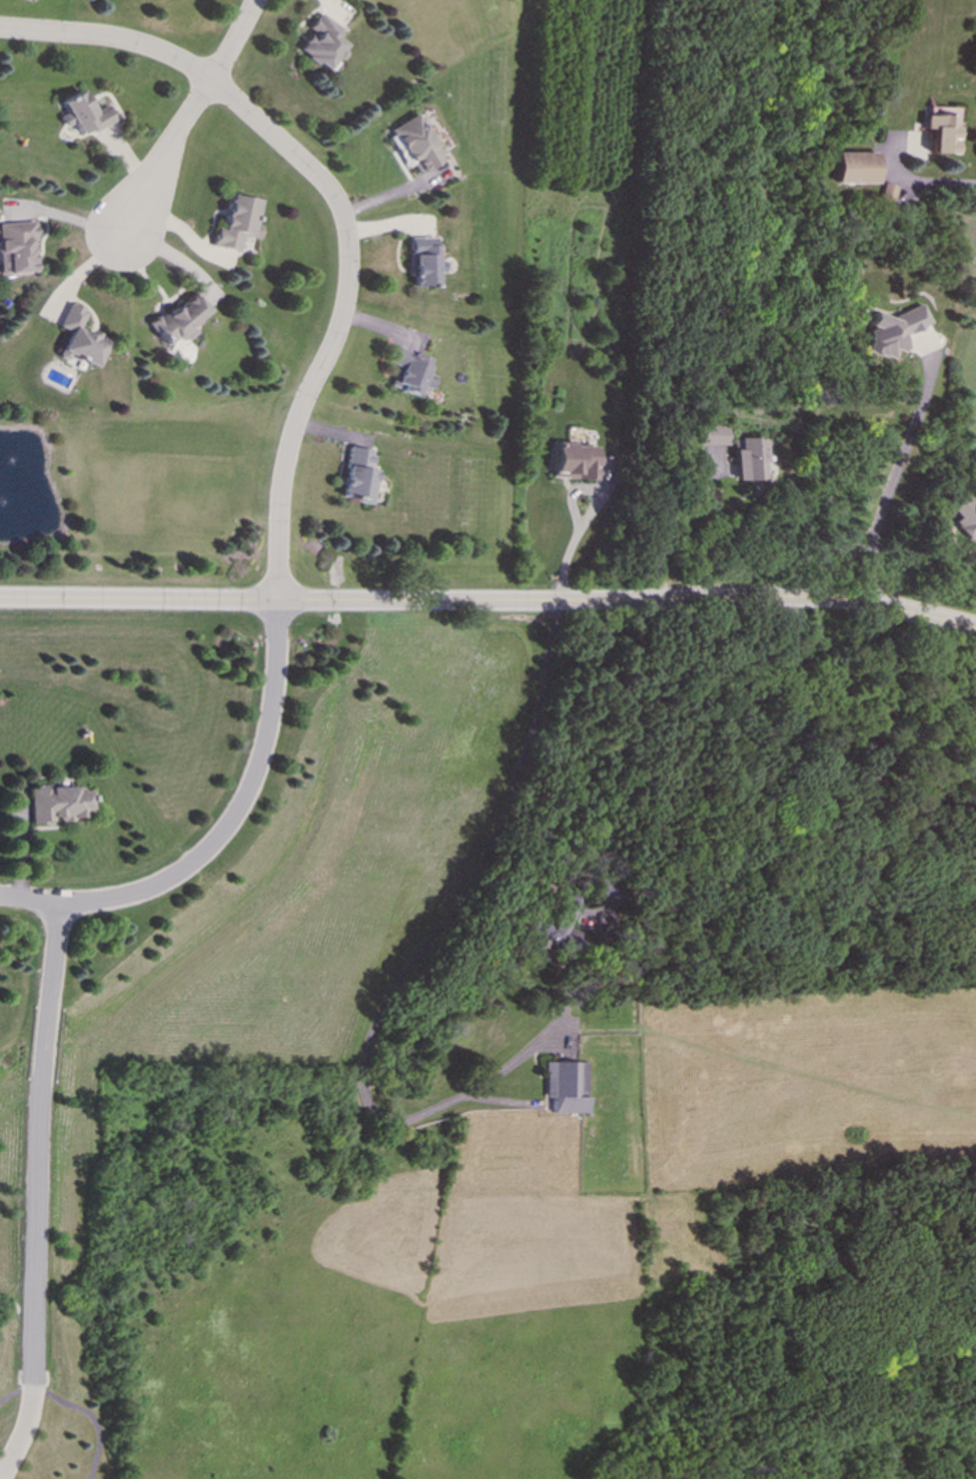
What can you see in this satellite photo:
road: (233, 41)
building: (320, 43)
building: (82, 114)
building: (940, 129)
building: (413, 144)
road: (164, 160)
building: (851, 168)
road: (922, 182)
building: (886, 192)
road: (385, 196)
road: (335, 211)
building: (235, 223)
building: (16, 248)
building: (420, 262)
building: (178, 320)
building: (892, 330)
building: (77, 339)
building: (407, 371)
building: (712, 435)
building: (748, 459)
building: (572, 462)
building: (355, 476)
road: (888, 488)
road: (590, 516)
building: (964, 516)
road: (674, 526)
road: (489, 601)
road: (489, 601)
building: (56, 804)
road: (222, 833)
park: (221, 888)
building: (604, 891)
building: (559, 925)
road: (421, 955)
building: (565, 1087)
road: (36, 1193)
road: (15, 1395)
road: (91, 1417)
park: (61, 1422)

